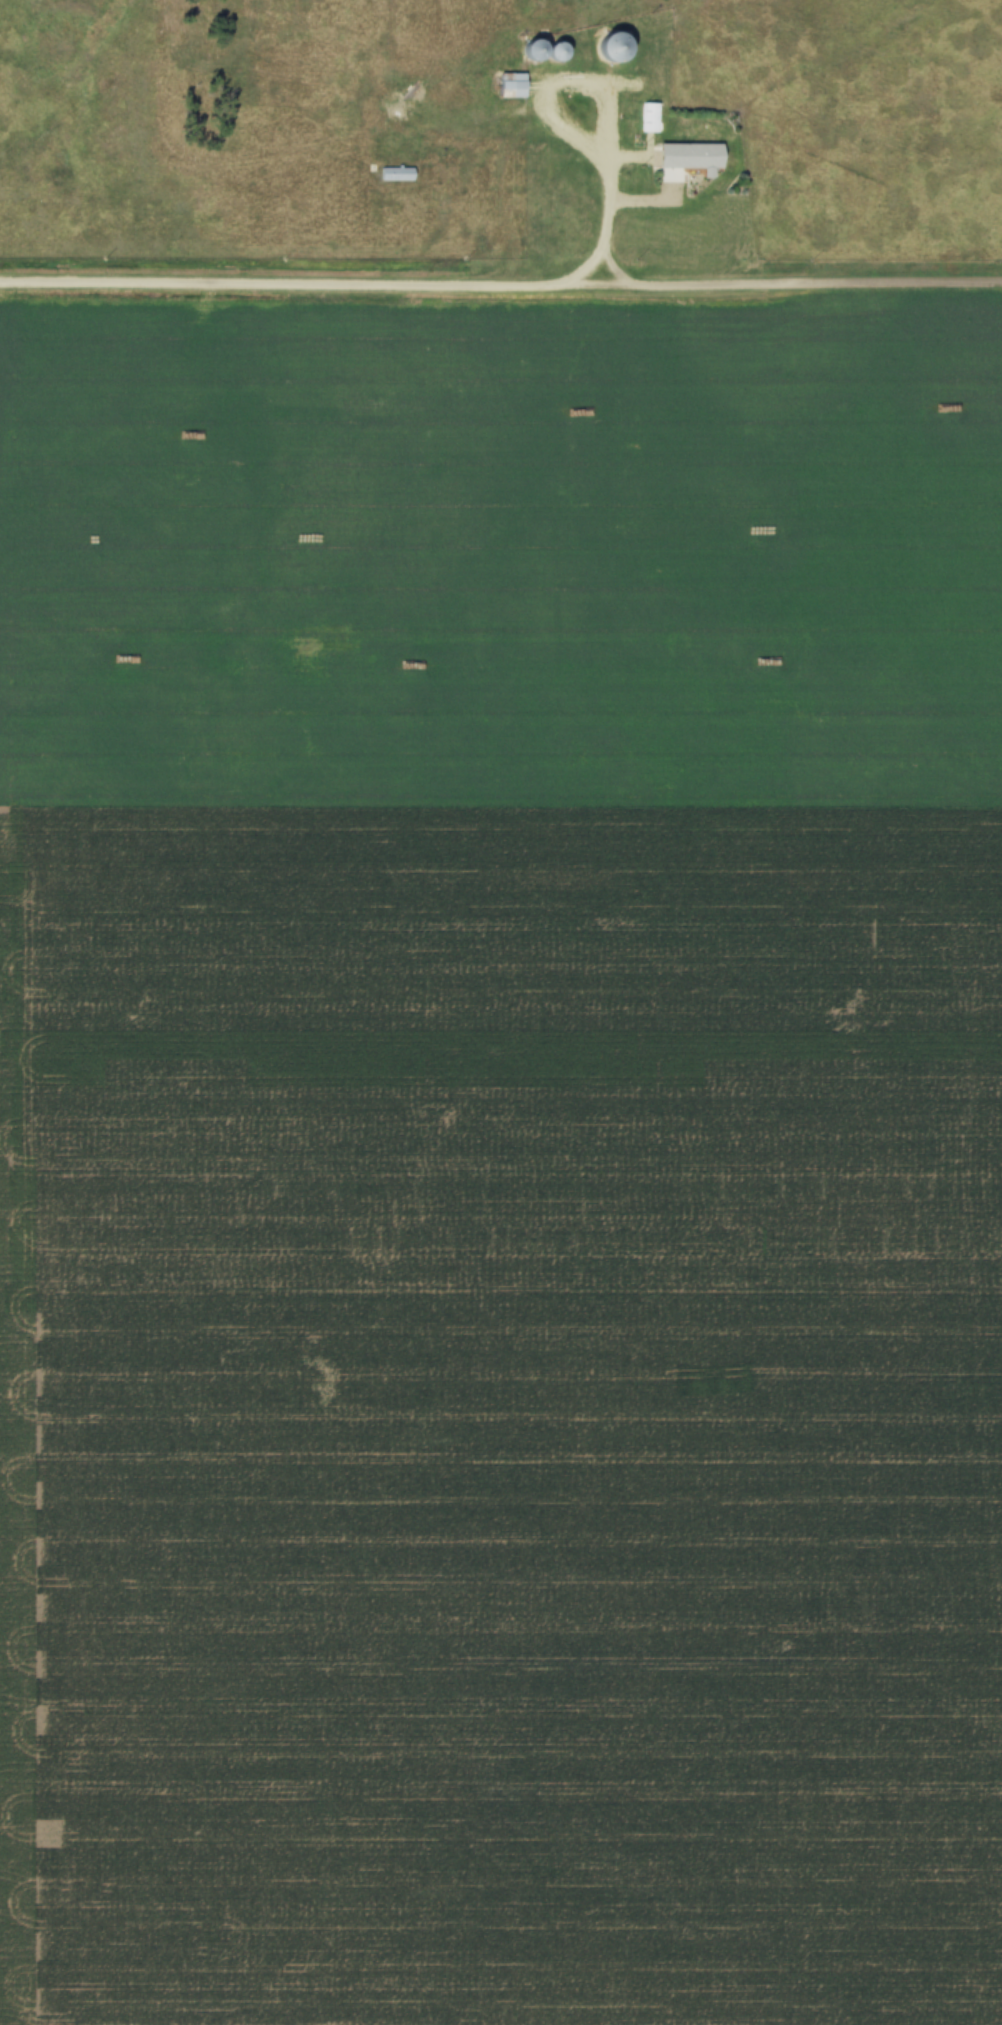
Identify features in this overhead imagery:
building: (617, 48)
building: (540, 51)
building: (563, 53)
building: (515, 86)
road: (610, 106)
building: (654, 118)
building: (706, 158)
building: (399, 174)
road: (500, 290)

